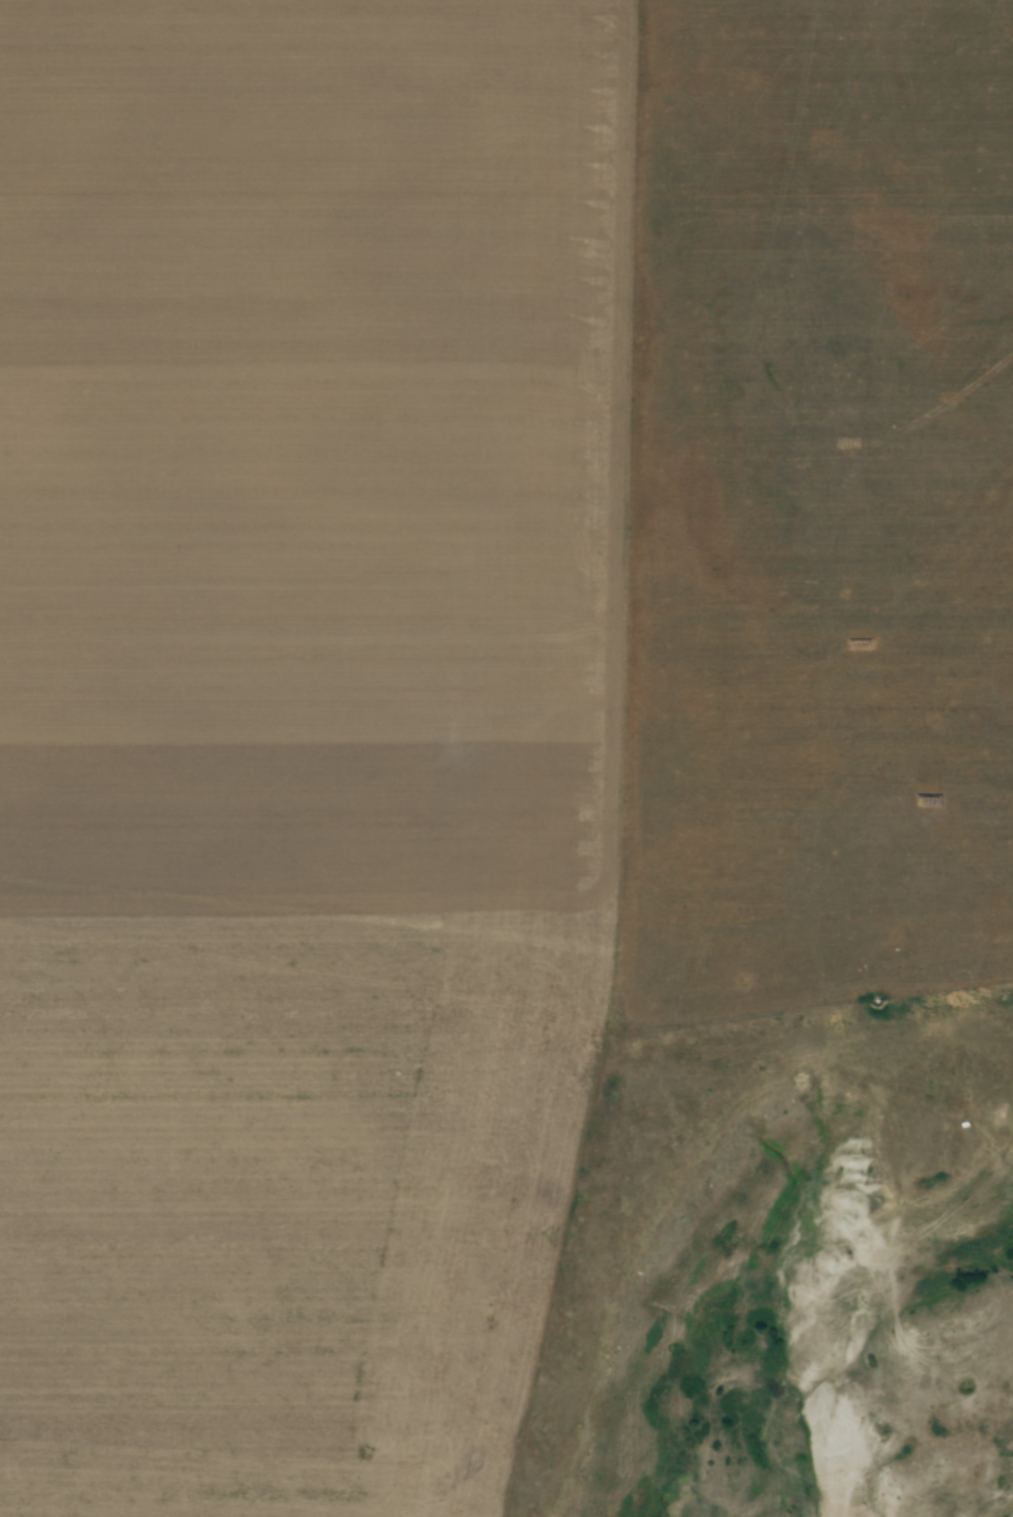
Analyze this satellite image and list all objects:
crop: (304, 736)

